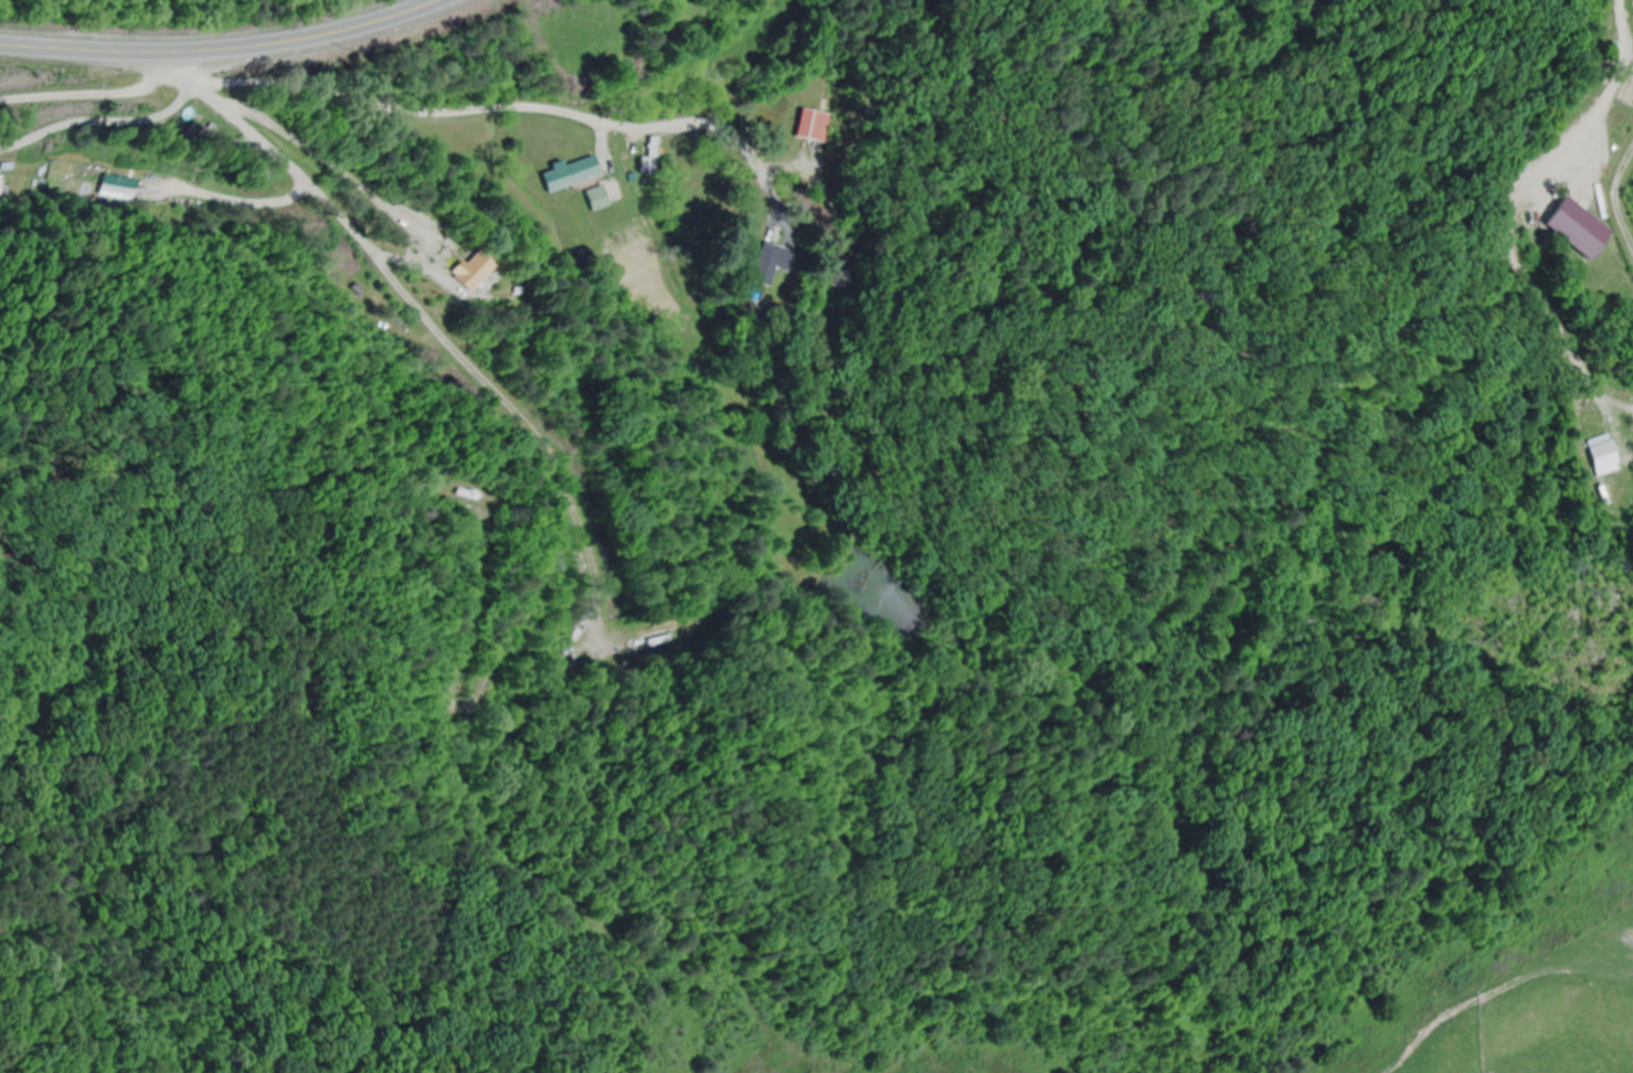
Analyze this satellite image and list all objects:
road: (219, 47)
road: (495, 108)
building: (816, 126)
building: (655, 156)
building: (574, 173)
building: (2, 185)
building: (600, 199)
road: (403, 244)
road: (132, 264)
road: (149, 284)
road: (530, 424)
building: (672, 636)

